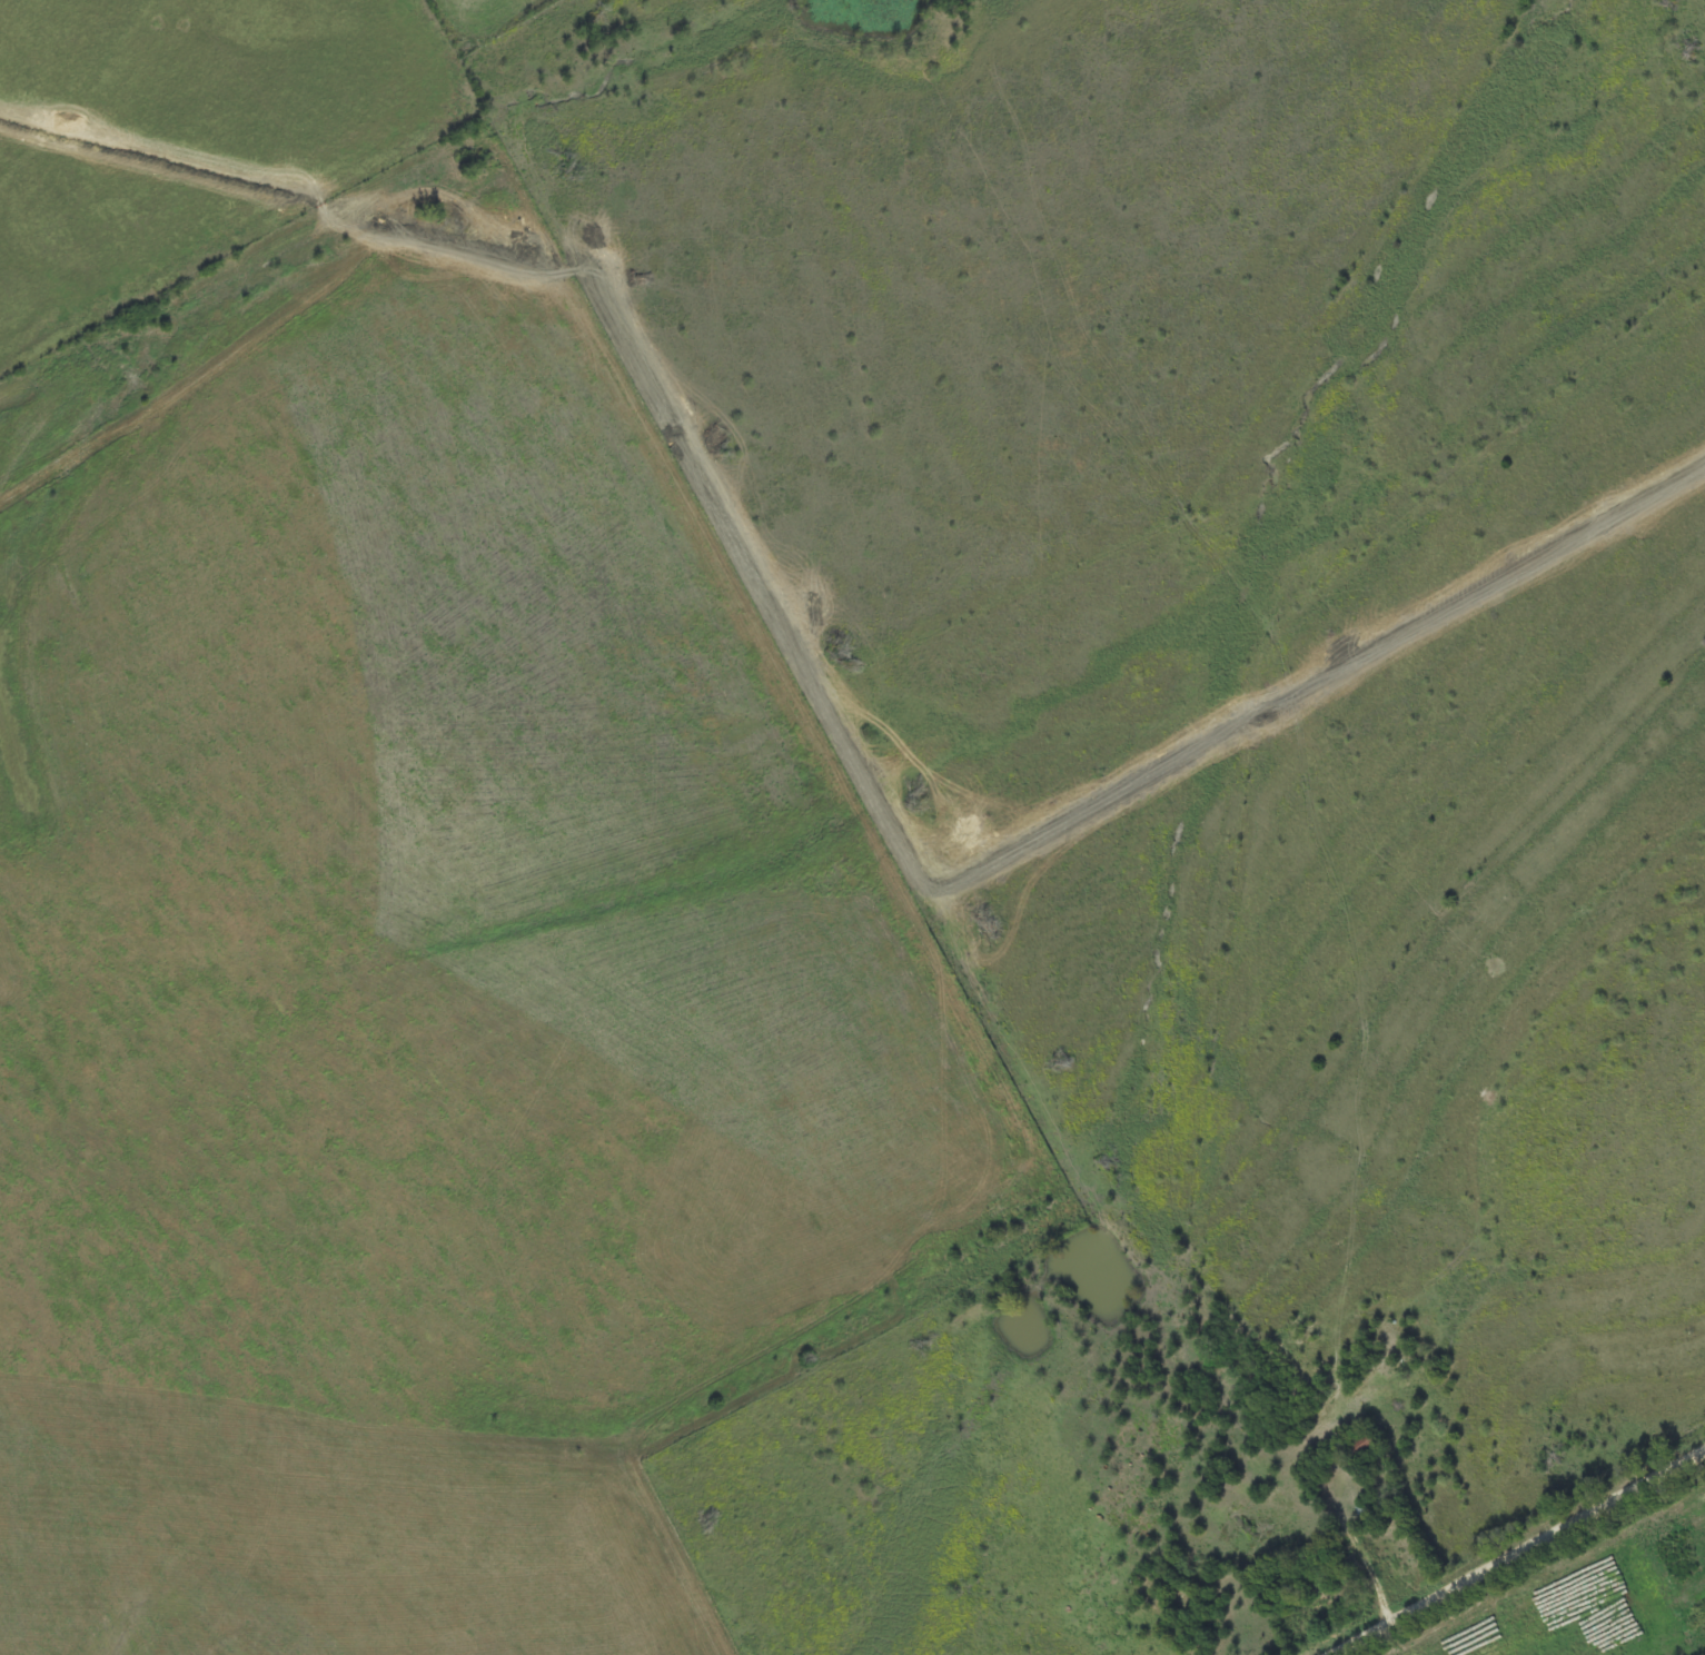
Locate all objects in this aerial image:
road: (1520, 1555)

